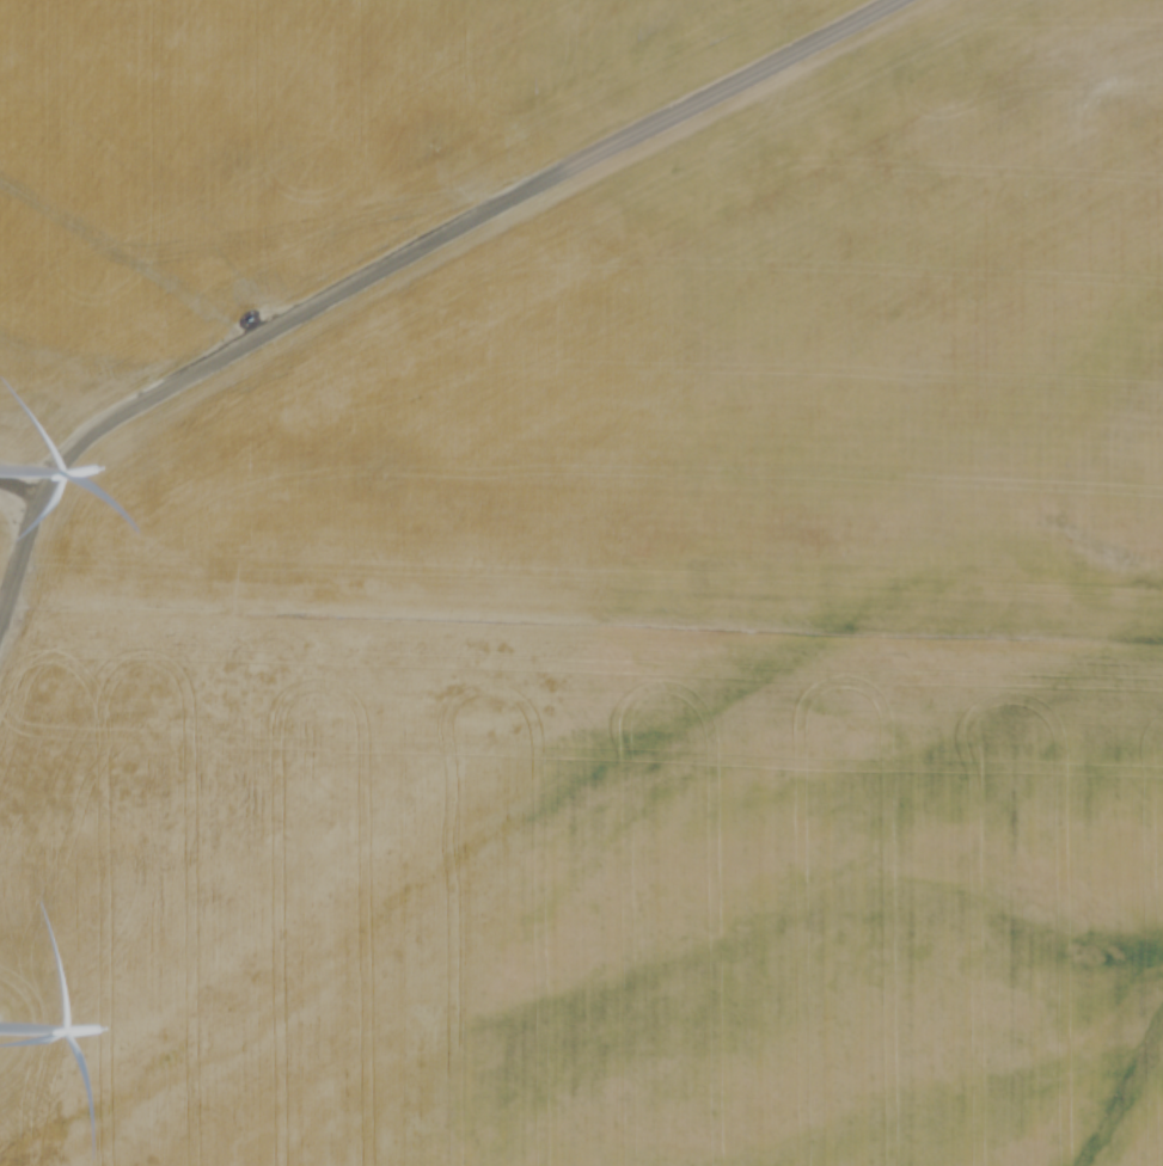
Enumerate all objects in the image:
road: (392, 251)

